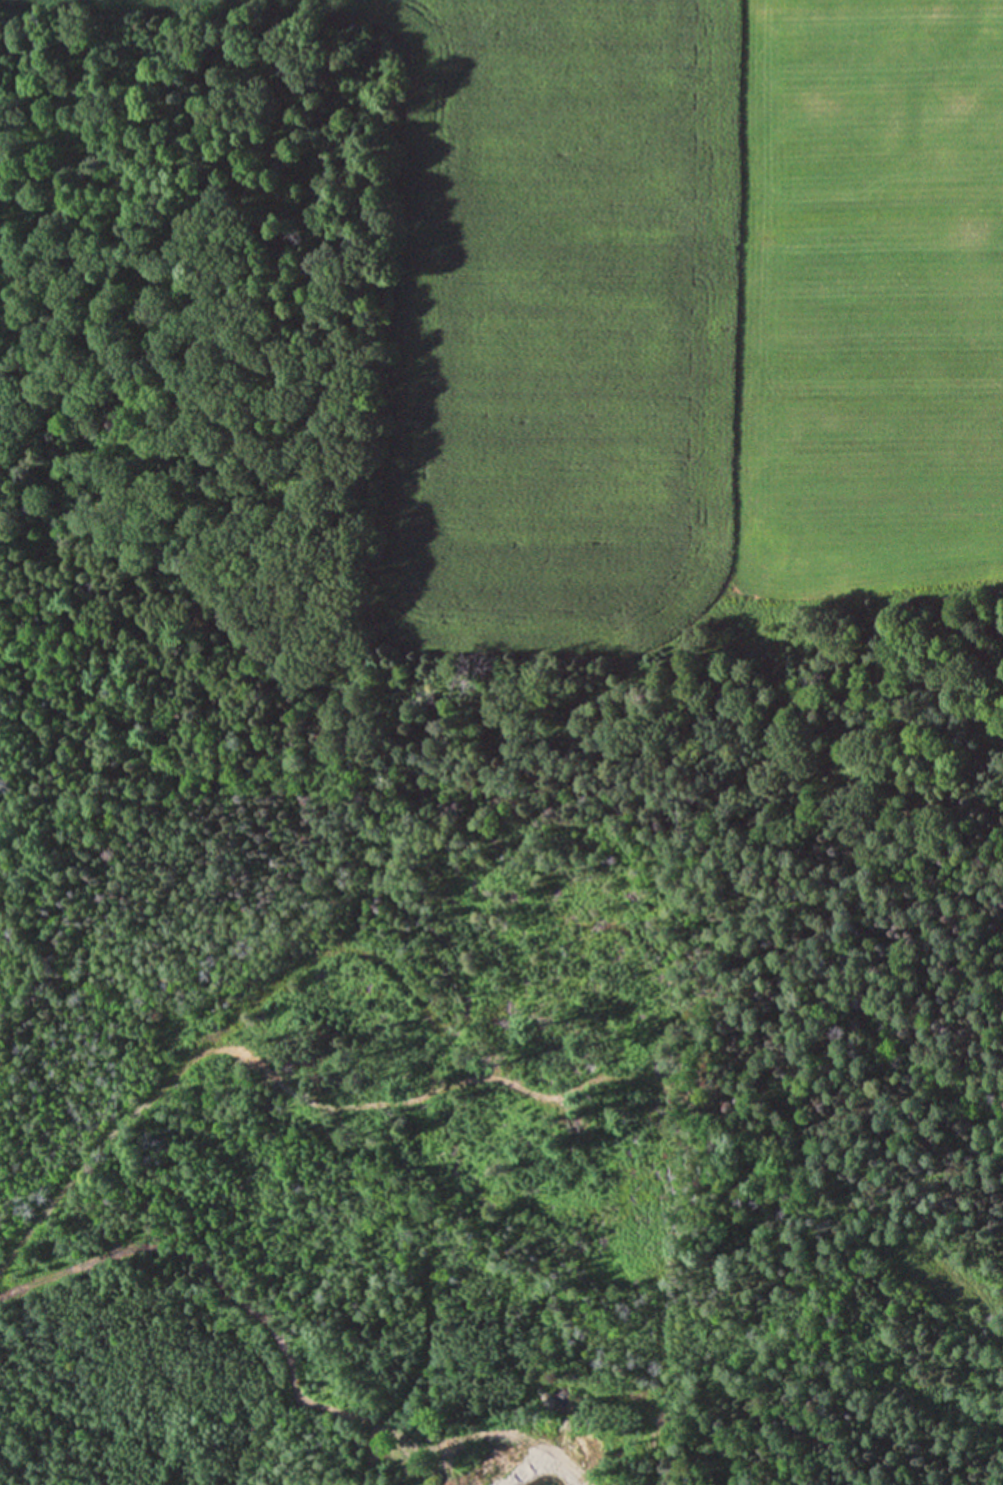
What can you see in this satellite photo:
quarry: (8, 1466)
quarry: (404, 1468)

